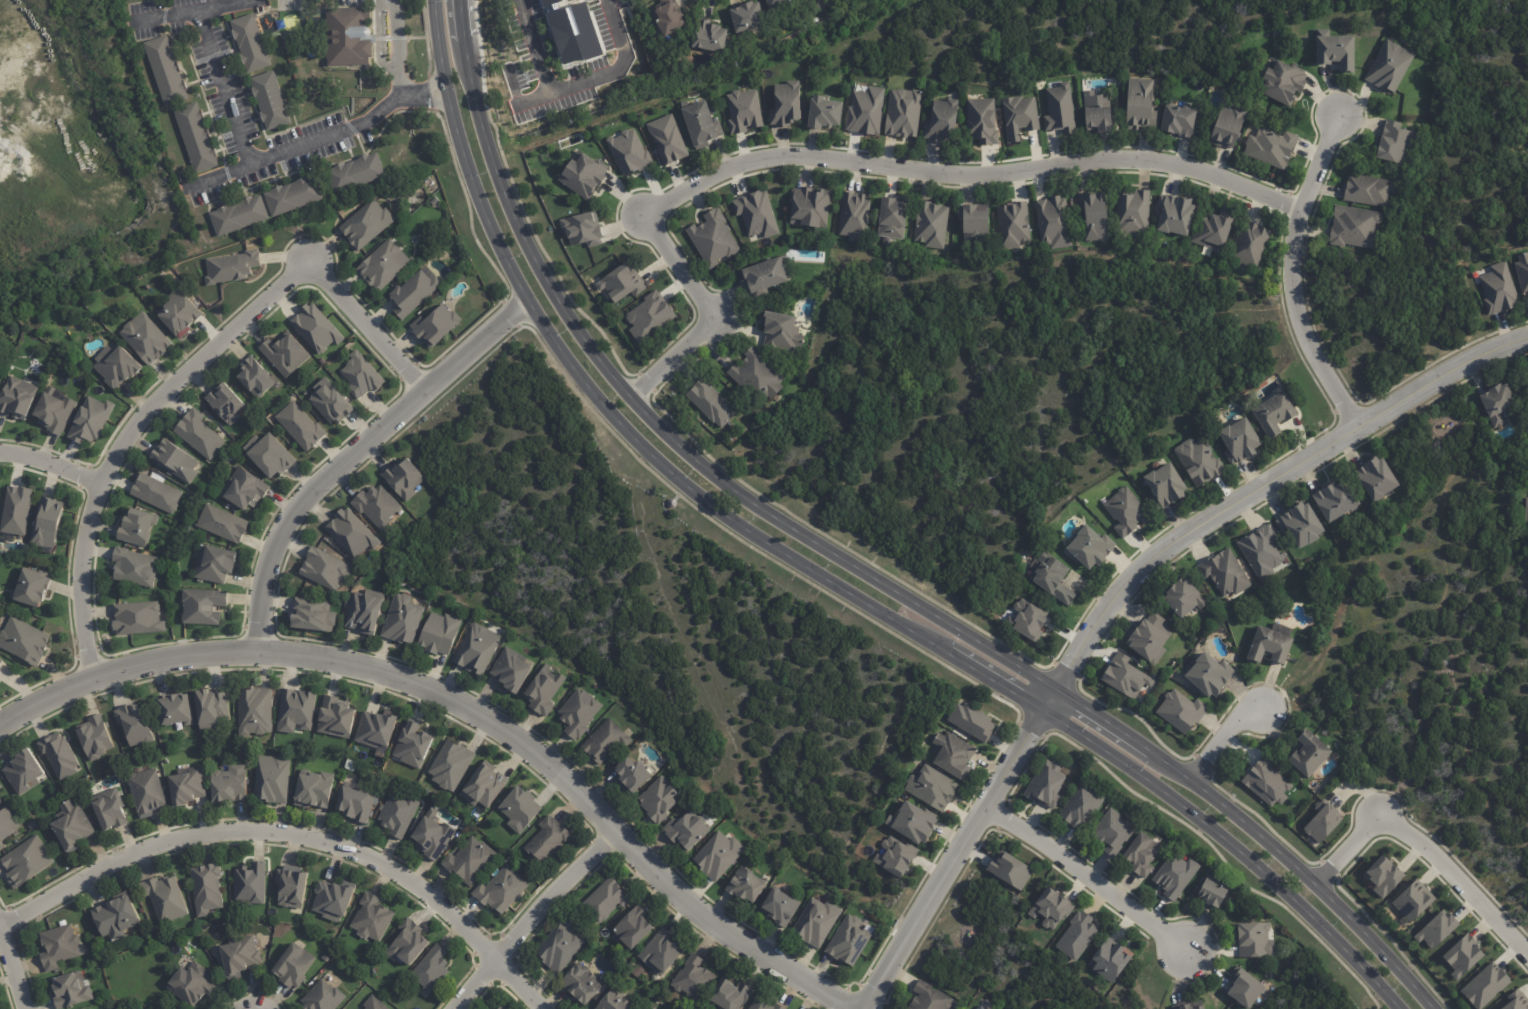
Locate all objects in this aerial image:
building: (776, 3)
building: (818, 5)
road: (167, 14)
building: (746, 16)
building: (667, 18)
building: (349, 36)
building: (710, 37)
road: (379, 40)
building: (248, 42)
road: (397, 46)
building: (1334, 50)
building: (1389, 66)
building: (166, 70)
road: (579, 76)
building: (1282, 81)
building: (268, 100)
building: (785, 104)
building: (1139, 105)
building: (743, 110)
building: (866, 110)
building: (1059, 110)
building: (1096, 112)
building: (824, 113)
building: (904, 113)
building: (1018, 117)
building: (982, 121)
building: (1178, 121)
building: (941, 122)
building: (699, 124)
building: (1227, 126)
building: (194, 137)
quarry: (60, 138)
building: (573, 139)
building: (667, 139)
building: (1397, 144)
building: (1271, 148)
building: (542, 150)
building: (629, 151)
quarry: (78, 152)
road: (252, 160)
road: (845, 161)
road: (217, 173)
building: (354, 173)
building: (584, 173)
building: (1370, 190)
building: (291, 196)
building: (436, 202)
building: (810, 207)
building: (1132, 213)
building: (755, 214)
building: (1175, 215)
building: (237, 216)
building: (854, 216)
building: (1092, 217)
building: (893, 219)
building: (975, 223)
building: (1053, 223)
building: (367, 225)
building: (932, 225)
building: (1013, 225)
building: (1354, 227)
building: (582, 229)
building: (1213, 230)
building: (714, 238)
building: (1249, 245)
building: (232, 266)
building: (383, 266)
road: (1290, 269)
building: (1522, 272)
building: (764, 276)
building: (620, 284)
building: (1498, 288)
building: (413, 293)
building: (183, 314)
building: (649, 316)
building: (435, 325)
building: (317, 328)
building: (780, 332)
building: (148, 339)
building: (284, 354)
building: (322, 362)
building: (118, 366)
building: (0, 370)
road: (186, 374)
building: (361, 375)
building: (256, 376)
building: (1527, 376)
building: (758, 378)
building: (0, 379)
park: (998, 391)
building: (20, 399)
building: (330, 401)
building: (228, 403)
building: (710, 403)
building: (1497, 404)
building: (58, 412)
building: (1273, 415)
building: (94, 420)
building: (300, 425)
building: (198, 434)
building: (1240, 441)
road: (354, 454)
building: (272, 456)
building: (174, 460)
road: (51, 463)
building: (1200, 463)
building: (406, 479)
building: (1376, 480)
building: (1165, 487)
building: (244, 491)
building: (154, 492)
road: (1256, 492)
building: (1, 502)
building: (1335, 502)
building: (375, 507)
building: (21, 512)
building: (1126, 512)
building: (1526, 512)
building: (51, 524)
building: (223, 524)
building: (139, 525)
building: (1302, 526)
building: (186, 530)
building: (352, 533)
building: (1091, 547)
building: (1261, 550)
building: (216, 564)
building: (135, 567)
building: (324, 567)
road: (862, 568)
road: (825, 573)
building: (1225, 574)
building: (1052, 580)
building: (36, 588)
building: (1184, 599)
building: (202, 606)
building: (365, 613)
building: (311, 615)
building: (135, 619)
building: (1027, 619)
building: (402, 620)
park: (671, 624)
building: (438, 635)
building: (1149, 640)
building: (26, 641)
building: (1270, 644)
road: (1427, 644)
building: (476, 651)
park: (1433, 654)
building: (0, 659)
building: (511, 671)
building: (1210, 676)
building: (1125, 678)
building: (545, 691)
road: (467, 707)
building: (212, 708)
building: (175, 710)
building: (1180, 710)
building: (297, 711)
building: (255, 712)
building: (579, 713)
building: (337, 716)
building: (971, 721)
building: (135, 724)
building: (377, 730)
road: (1406, 732)
building: (95, 737)
road: (1224, 739)
building: (605, 741)
building: (413, 745)
building: (952, 754)
building: (1310, 754)
building: (59, 755)
building: (450, 765)
building: (25, 771)
building: (630, 775)
building: (273, 779)
building: (1266, 782)
building: (1046, 783)
building: (226, 784)
building: (186, 785)
building: (485, 785)
building: (931, 788)
building: (312, 790)
building: (147, 792)
building: (658, 800)
building: (0, 801)
building: (355, 803)
building: (1082, 805)
building: (518, 808)
building: (111, 813)
building: (398, 815)
building: (910, 822)
building: (1323, 822)
building: (7, 826)
building: (70, 826)
building: (1112, 831)
building: (686, 833)
building: (432, 835)
road: (293, 840)
building: (546, 841)
building: (1141, 854)
building: (717, 855)
building: (896, 856)
building: (26, 861)
building: (471, 861)
road: (955, 862)
road: (1431, 862)
building: (1010, 870)
building: (1175, 875)
building: (1383, 875)
building: (251, 883)
building: (746, 884)
building: (294, 886)
road: (1091, 886)
building: (206, 888)
building: (501, 891)
building: (1213, 892)
building: (165, 897)
building: (335, 899)
building: (608, 900)
building: (1413, 900)
building: (781, 908)
building: (1050, 908)
building: (114, 917)
building: (372, 917)
road: (533, 919)
building: (815, 922)
building: (634, 926)
building: (1437, 929)
building: (1077, 935)
building: (1255, 940)
building: (848, 942)
building: (409, 943)
building: (58, 946)
building: (559, 948)
road: (1002, 949)
building: (662, 952)
park: (998, 952)
building: (1462, 955)
building: (239, 957)
building: (326, 957)
building: (1110, 960)
road: (13, 962)
building: (294, 967)
building: (431, 968)
building: (636, 971)
building: (694, 978)
building: (190, 983)
building: (579, 983)
building: (1485, 985)
park: (1309, 987)
building: (70, 989)
building: (1245, 989)
building: (643, 994)
building: (729, 994)
building: (324, 997)
building: (928, 998)
building: (1516, 1000)
building: (613, 1001)
building: (764, 1002)
building: (377, 1003)
building: (501, 1007)
building: (649, 1007)
building: (979, 1007)
building: (1182, 1007)
building: (991, 1008)
building: (1200, 1008)

